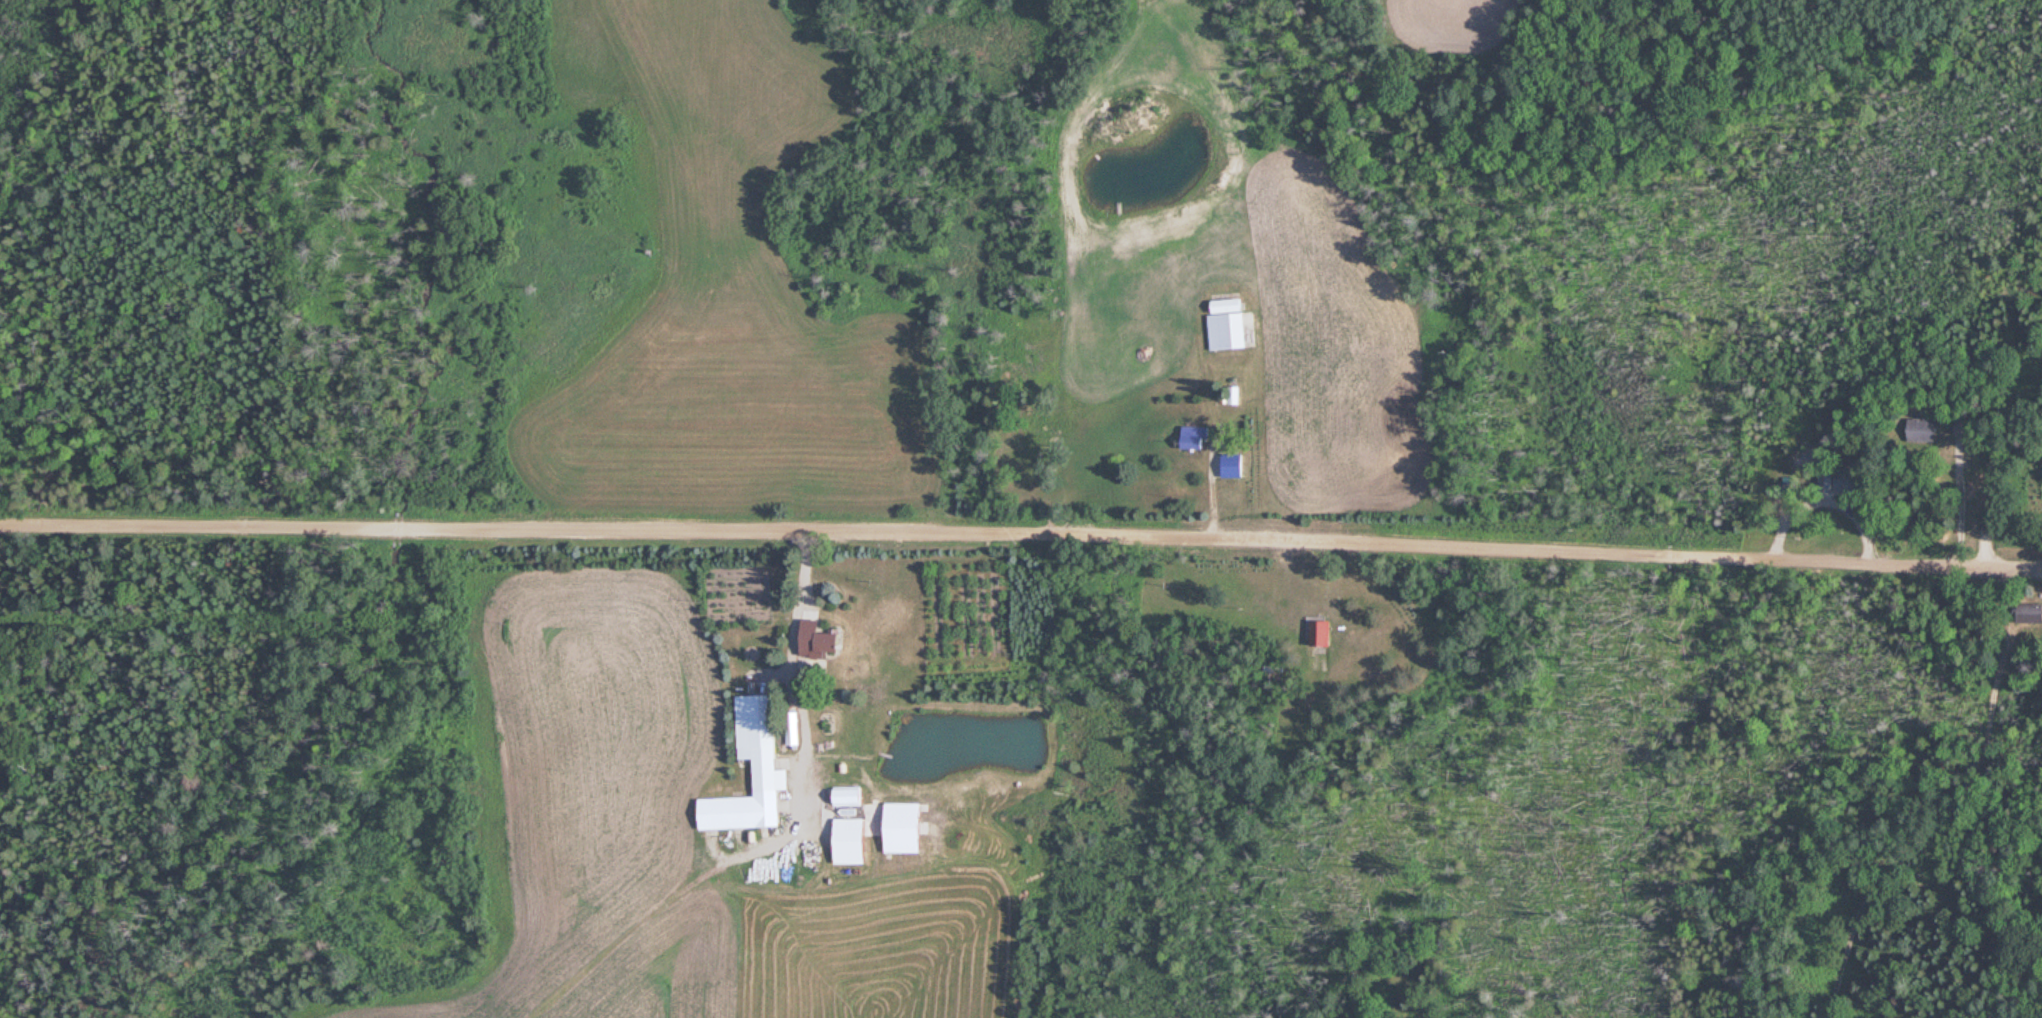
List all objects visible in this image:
building: (1234, 324)
building: (1917, 429)
building: (1200, 437)
building: (1774, 475)
road: (1021, 535)
building: (2027, 612)
building: (1314, 626)
building: (829, 643)
building: (767, 752)
building: (858, 840)

